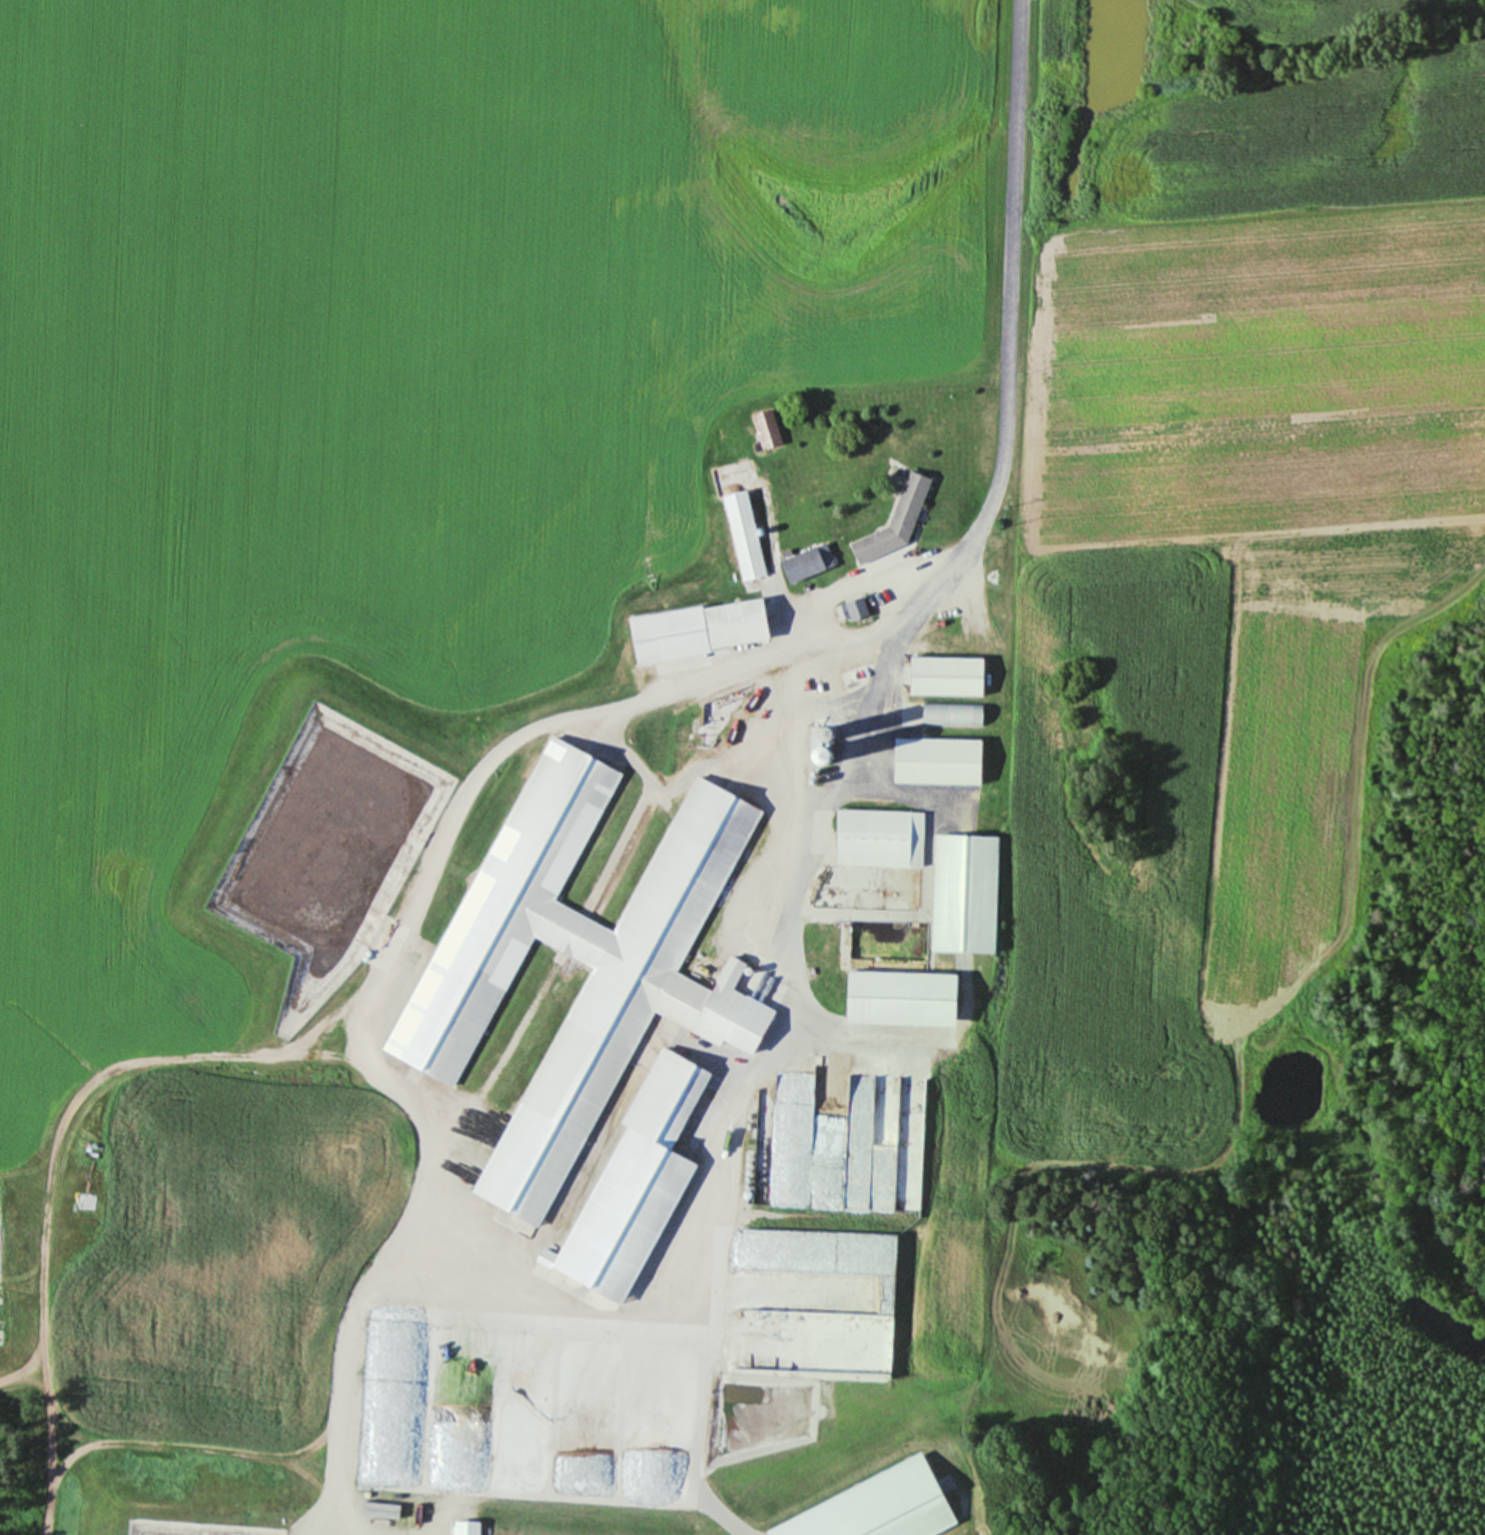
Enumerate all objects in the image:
building: (765, 429)
building: (894, 519)
building: (742, 535)
building: (806, 561)
road: (949, 562)
building: (854, 607)
building: (692, 632)
building: (944, 674)
building: (802, 680)
building: (950, 712)
road: (559, 719)
building: (934, 759)
building: (792, 763)
building: (877, 837)
building: (954, 873)
building: (569, 943)
building: (612, 1258)
building: (693, 1446)

